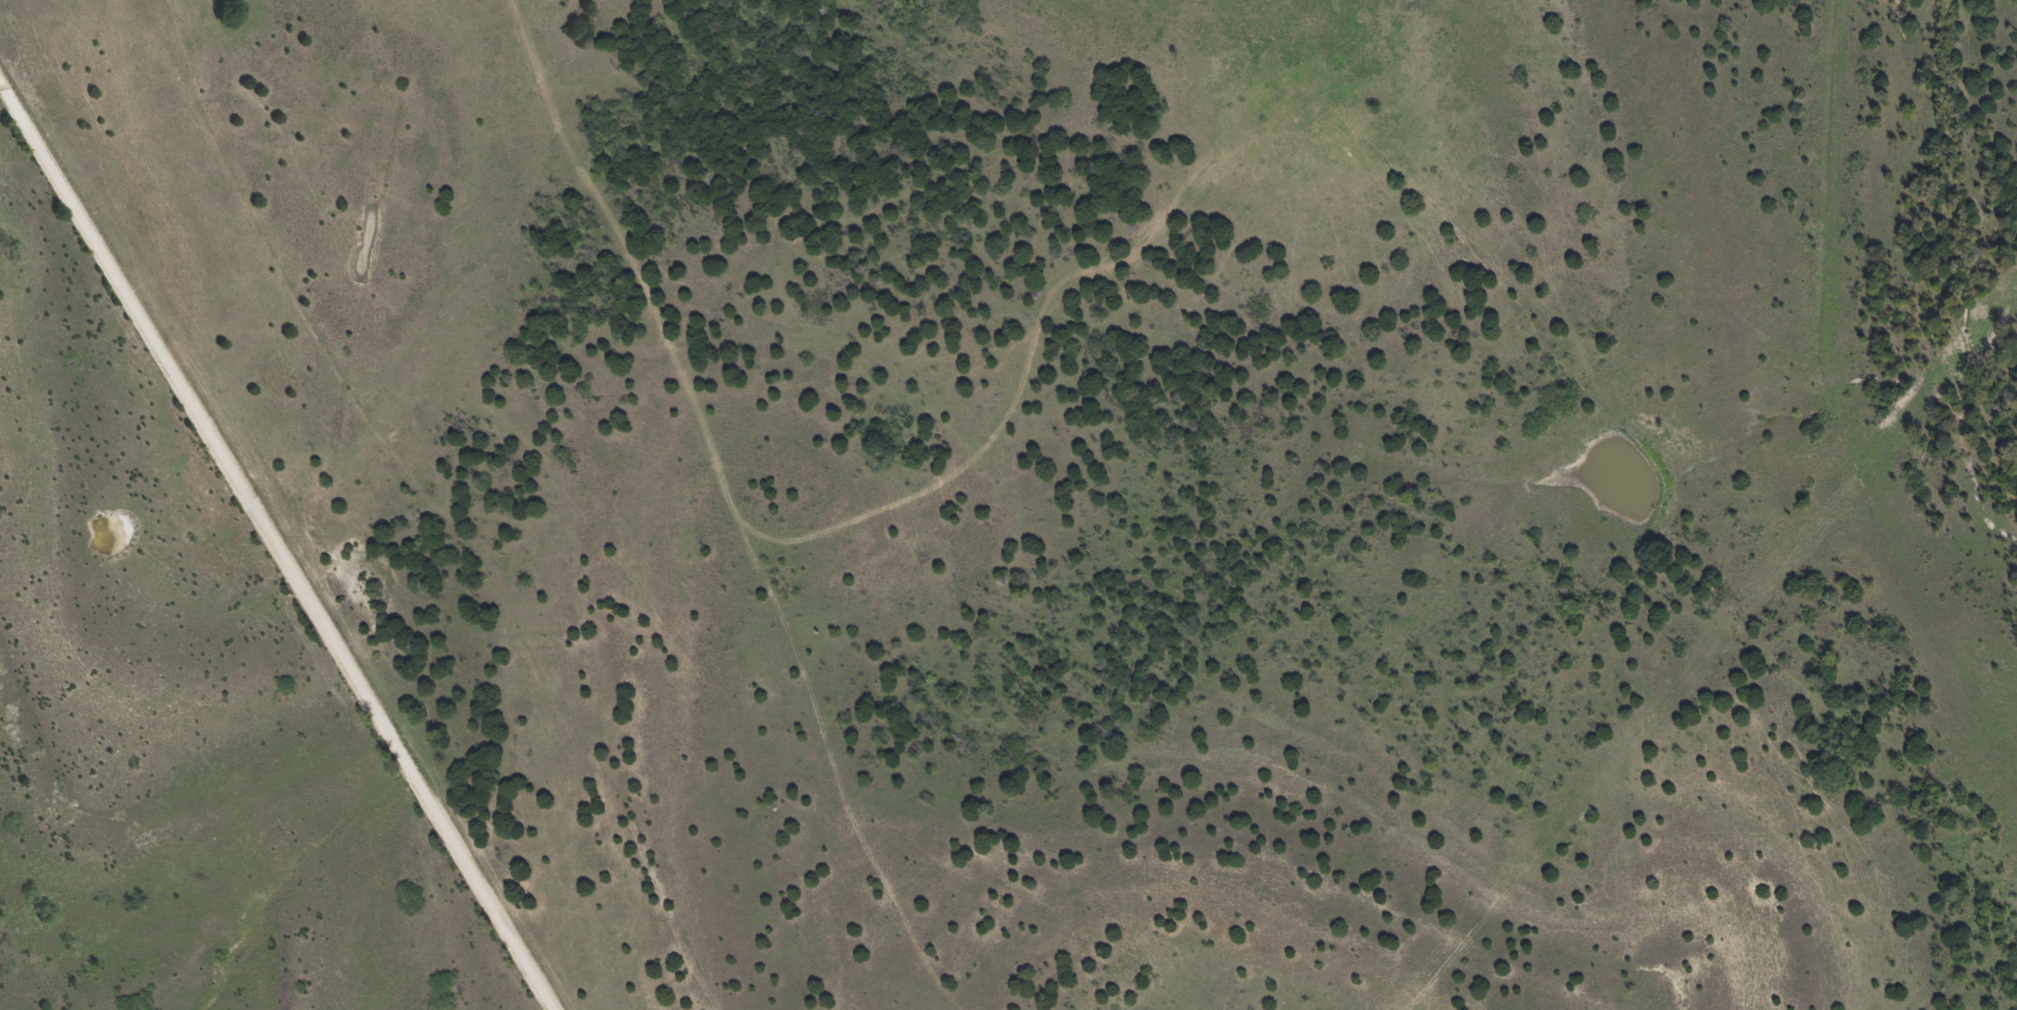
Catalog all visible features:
road: (277, 543)

